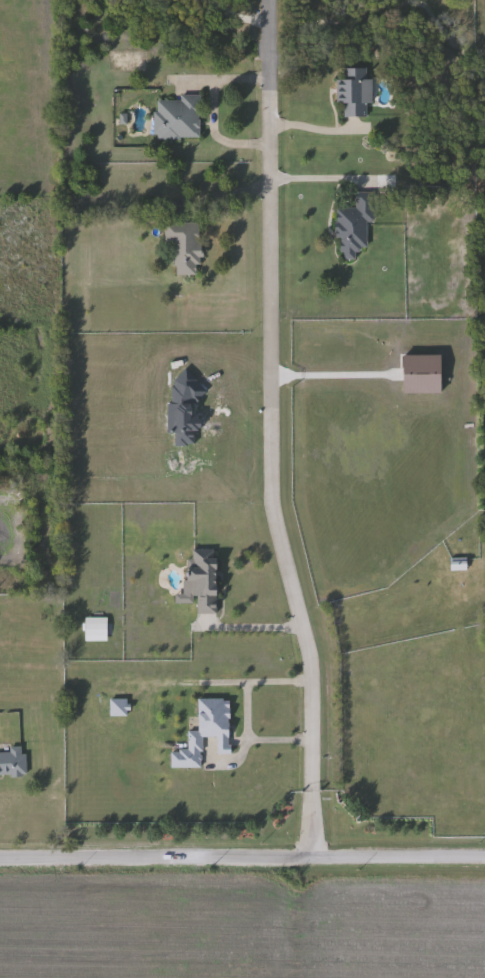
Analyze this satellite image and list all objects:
building: (356, 90)
road: (211, 108)
building: (180, 118)
road: (317, 177)
building: (356, 224)
building: (186, 246)
road: (328, 374)
road: (272, 430)
building: (459, 563)
building: (205, 579)
road: (21, 586)
road: (254, 619)
road: (244, 709)
building: (206, 732)
building: (13, 762)
road: (242, 857)

